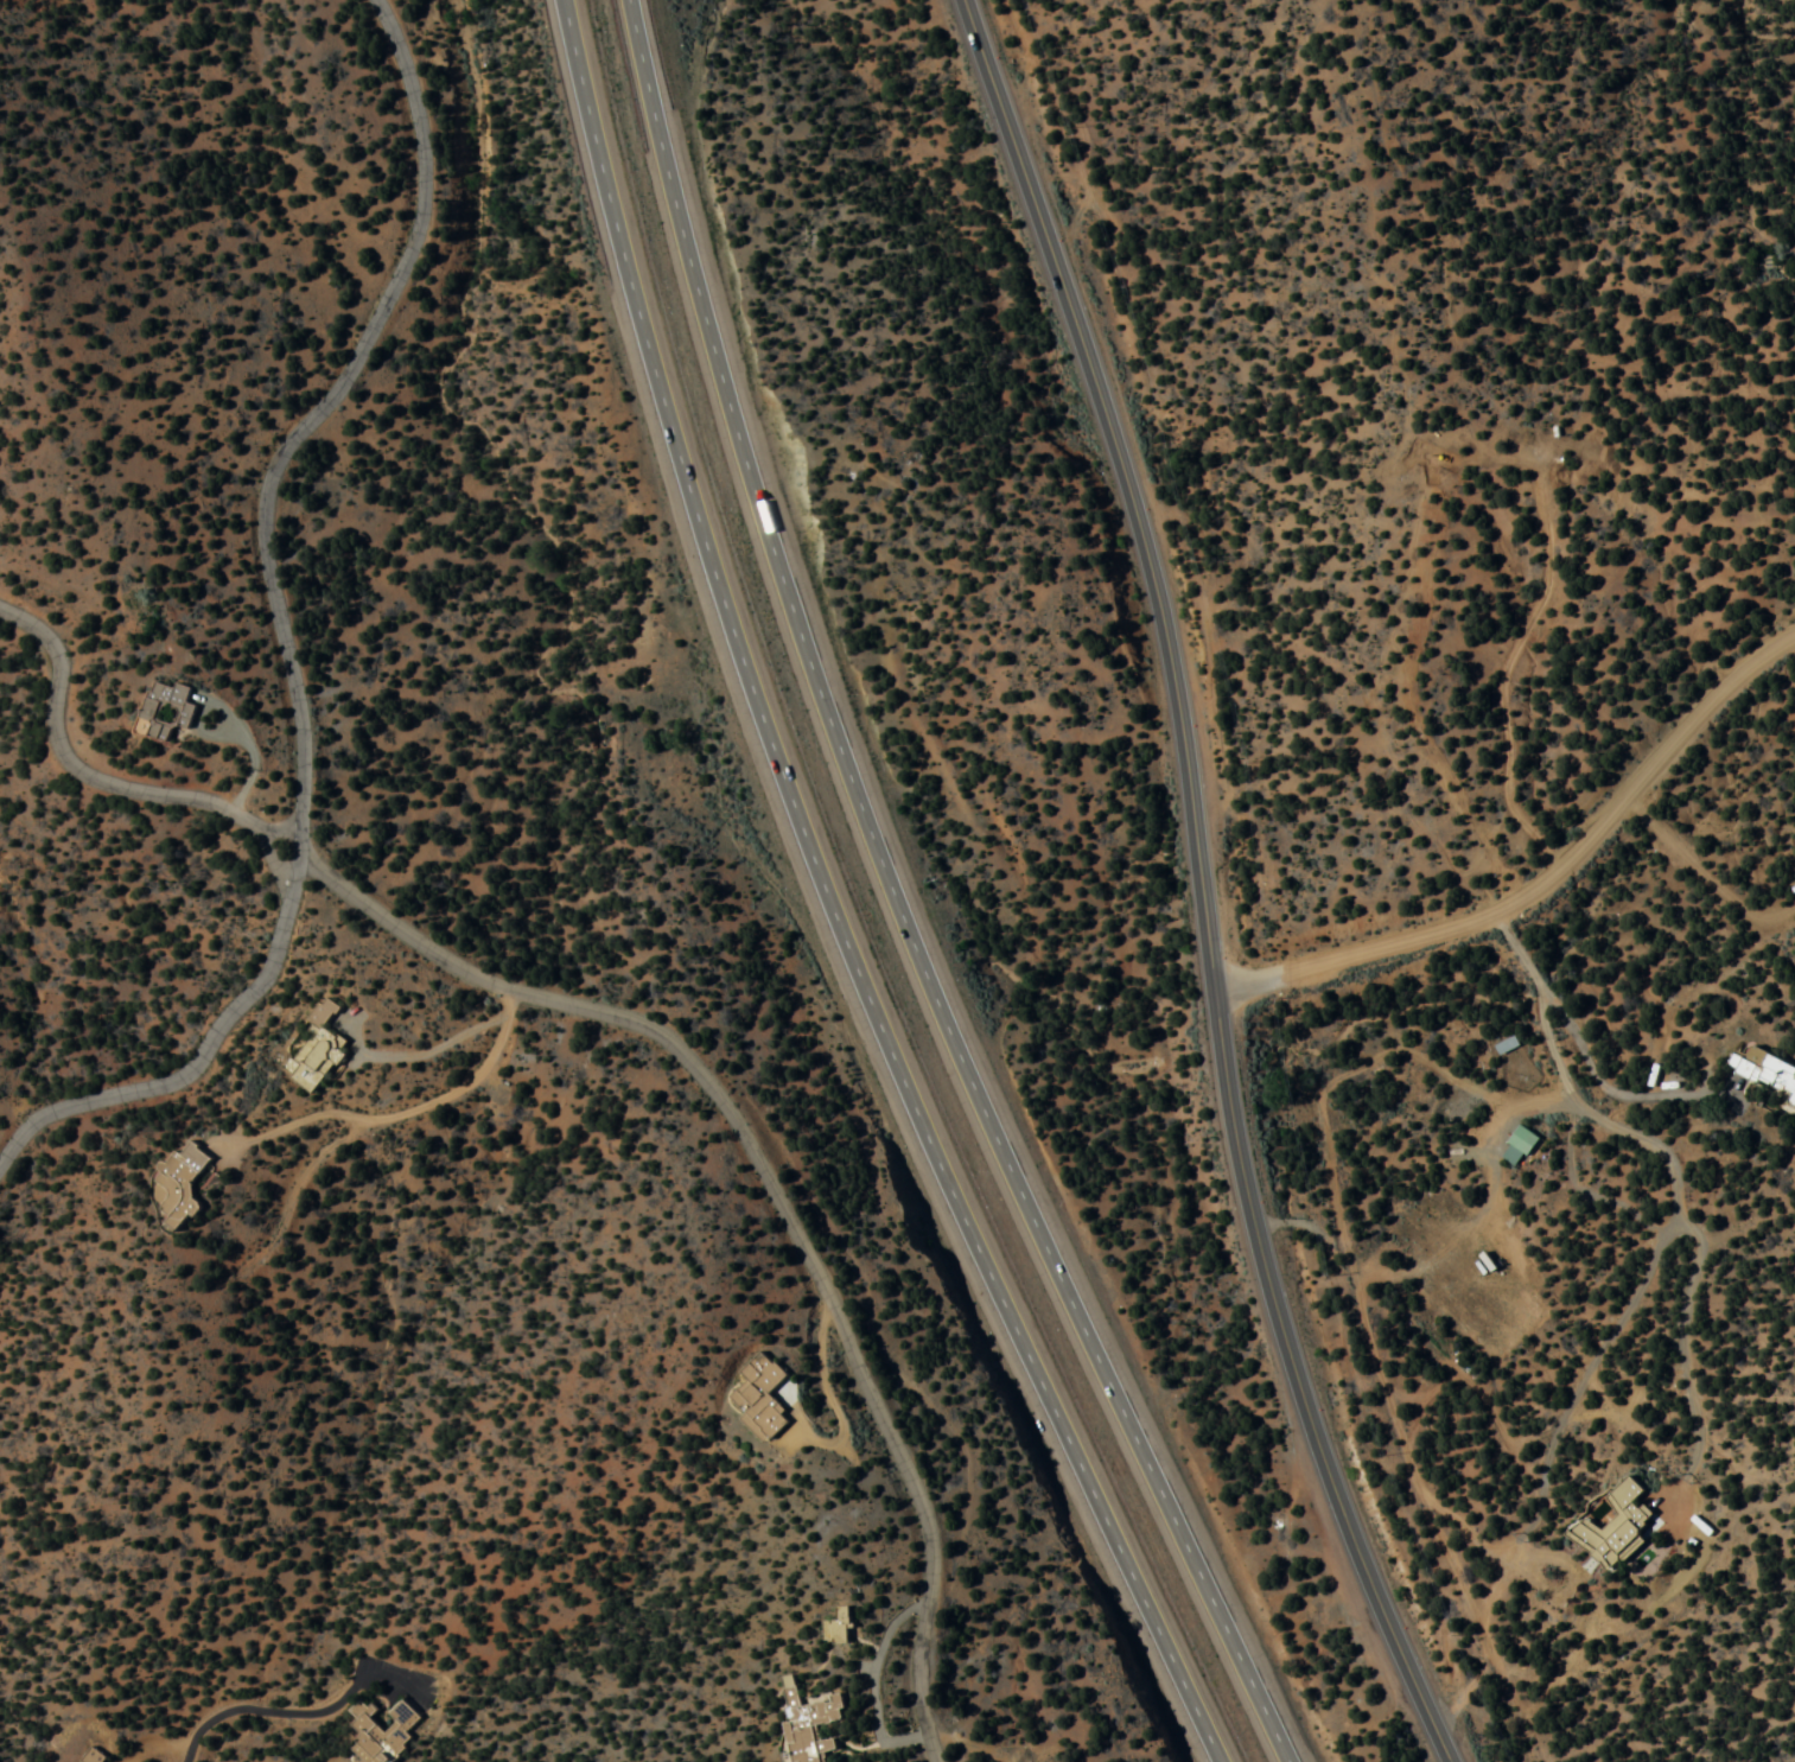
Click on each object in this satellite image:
road: (319, 411)
building: (171, 708)
road: (236, 723)
road: (83, 771)
road: (268, 859)
road: (1542, 874)
road: (1202, 883)
road: (828, 903)
road: (893, 904)
building: (317, 1047)
road: (1596, 1058)
road: (193, 1064)
building: (1772, 1064)
building: (1794, 1094)
road: (1331, 1107)
building: (1522, 1141)
building: (179, 1183)
road: (774, 1195)
road: (1693, 1226)
building: (760, 1398)
road: (1554, 1449)
building: (1618, 1519)
building: (835, 1627)
road: (884, 1679)
road: (297, 1713)
building: (808, 1723)
building: (382, 1734)
building: (91, 1756)

